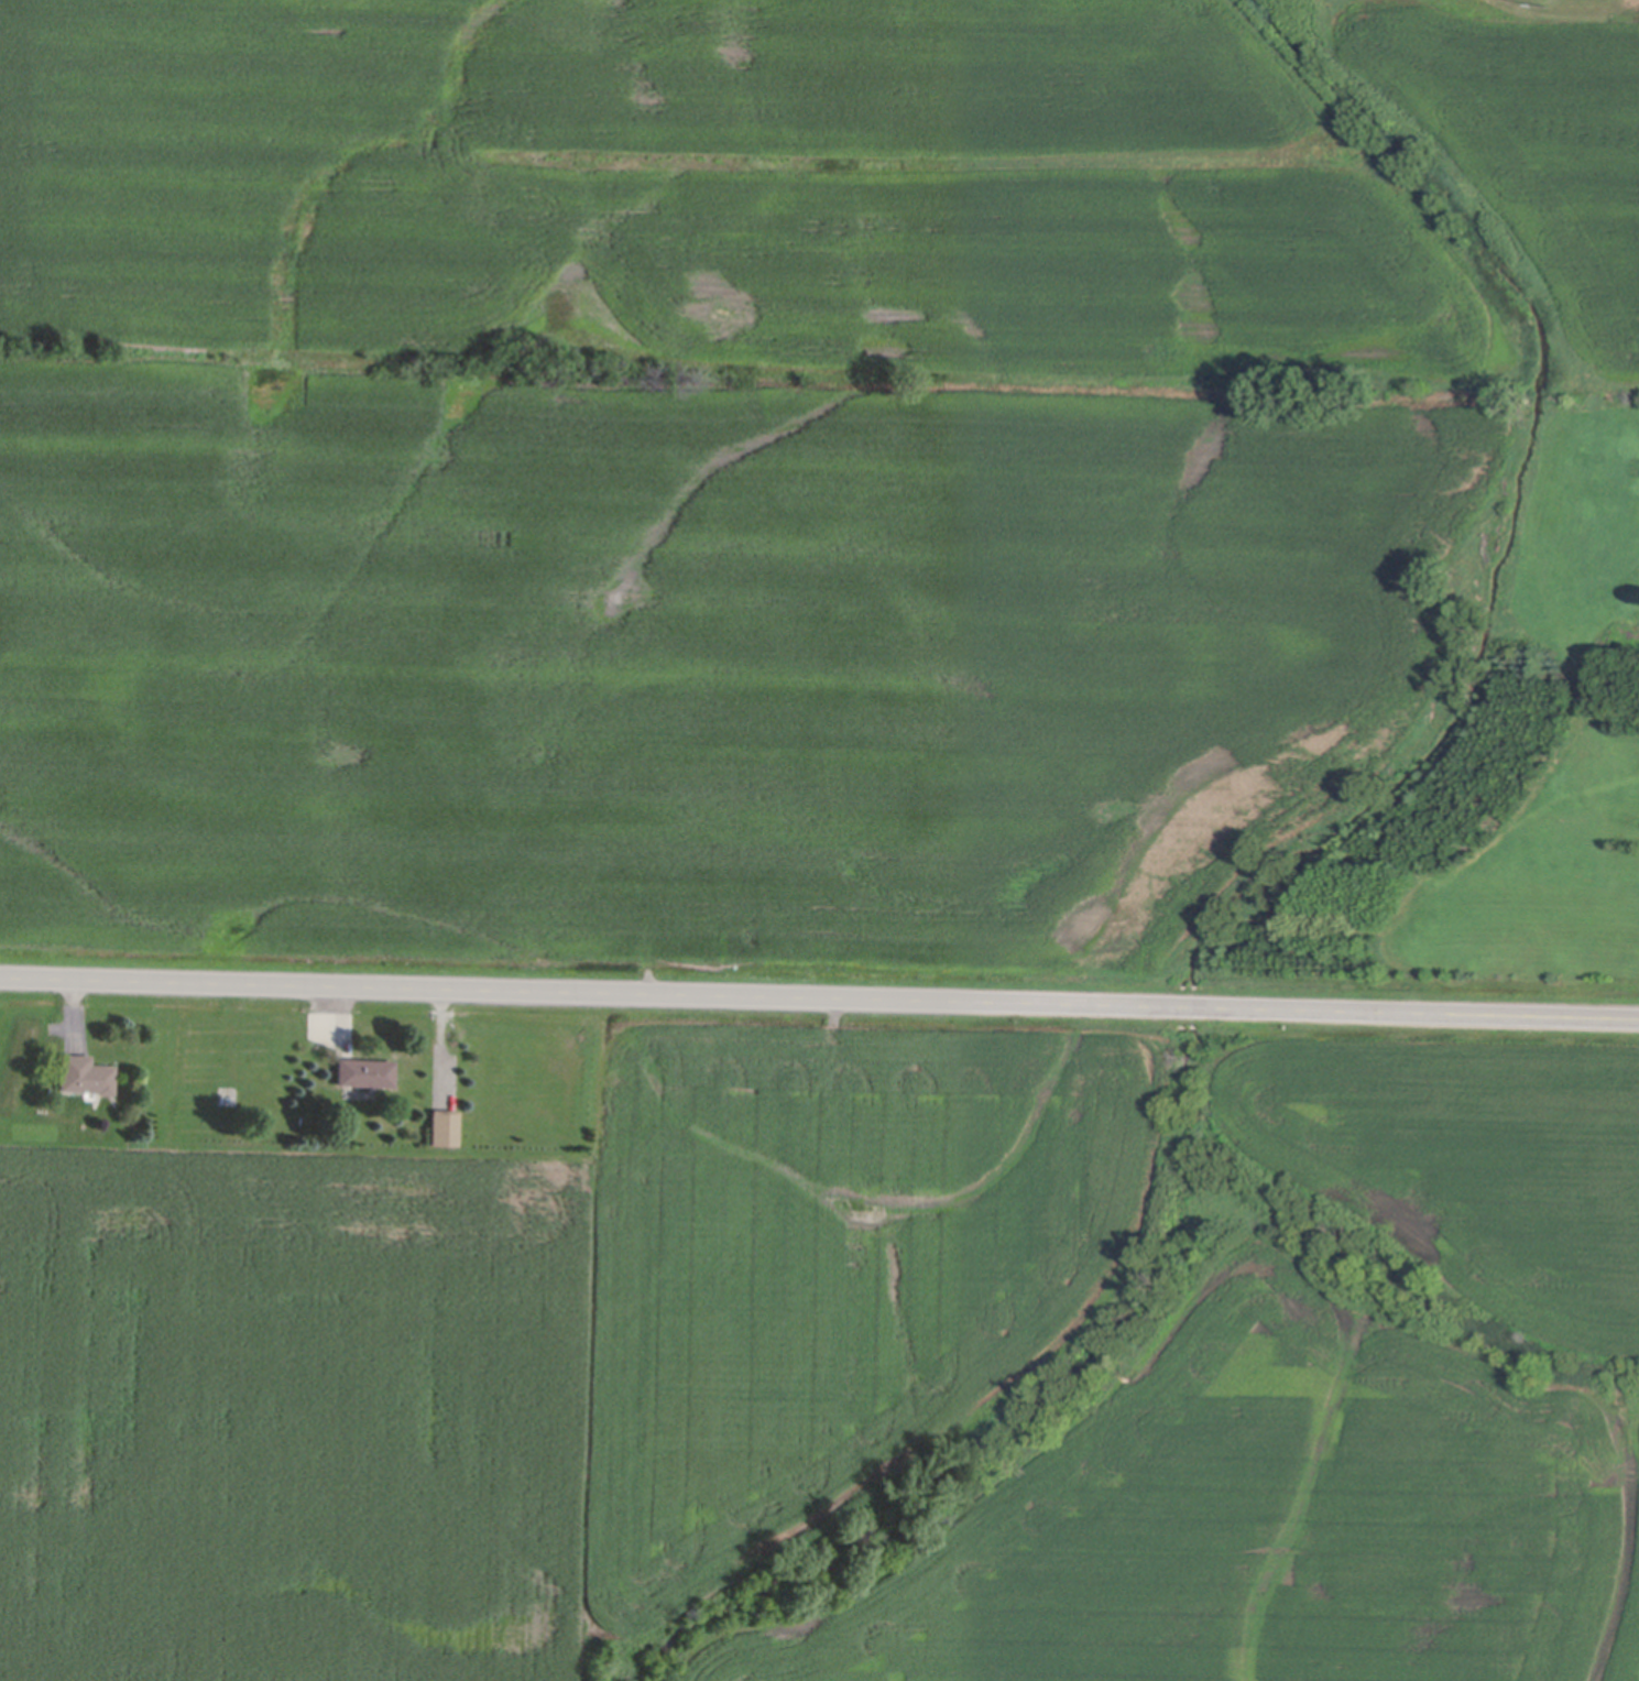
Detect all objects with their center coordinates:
park: (1553, 6)
road: (819, 1001)
building: (363, 1071)
building: (84, 1074)
building: (442, 1126)

